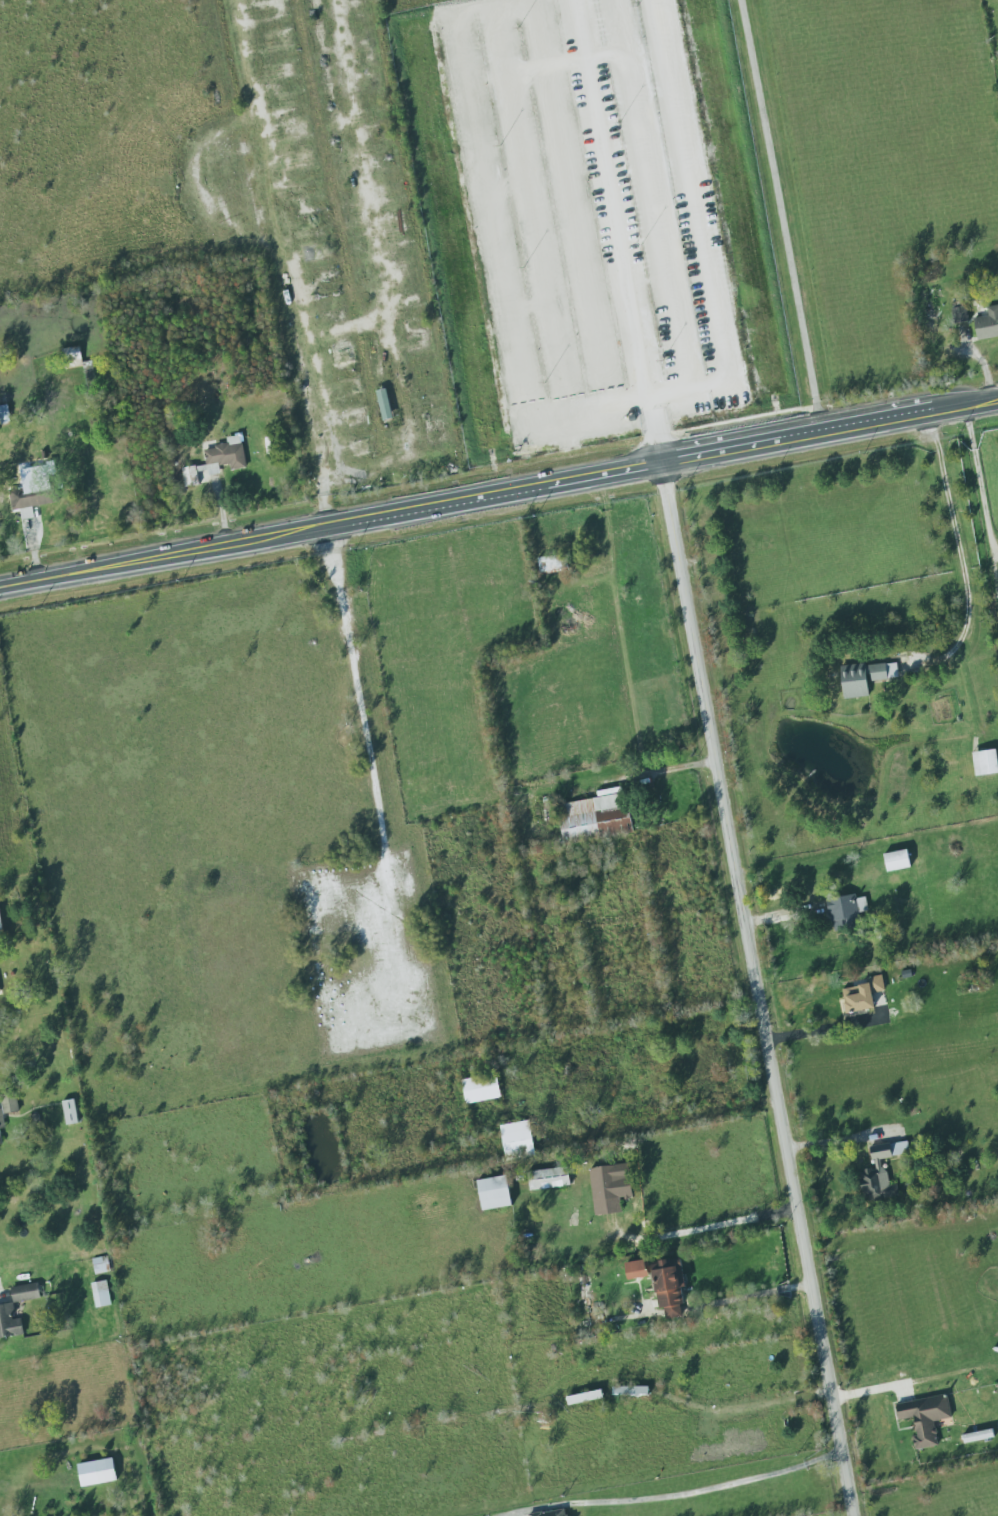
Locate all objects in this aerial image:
road: (790, 217)
road: (617, 234)
building: (959, 314)
building: (987, 323)
building: (68, 357)
building: (383, 404)
road: (327, 427)
building: (215, 461)
road: (976, 488)
road: (499, 499)
road: (954, 548)
road: (33, 554)
building: (550, 564)
building: (997, 573)
building: (864, 678)
road: (356, 696)
building: (984, 762)
building: (896, 861)
building: (846, 911)
building: (0, 927)
road: (761, 992)
building: (861, 995)
road: (821, 1029)
building: (480, 1089)
building: (69, 1112)
building: (1, 1121)
road: (658, 1126)
building: (516, 1140)
building: (0, 1142)
building: (879, 1173)
building: (545, 1179)
building: (608, 1188)
building: (493, 1193)
road: (712, 1226)
building: (100, 1265)
building: (636, 1269)
road: (1, 1287)
building: (669, 1287)
building: (24, 1293)
building: (100, 1294)
road: (754, 1295)
building: (8, 1323)
building: (629, 1391)
road: (690, 1401)
building: (924, 1418)
building: (96, 1472)
road: (715, 1487)
building: (549, 1513)

